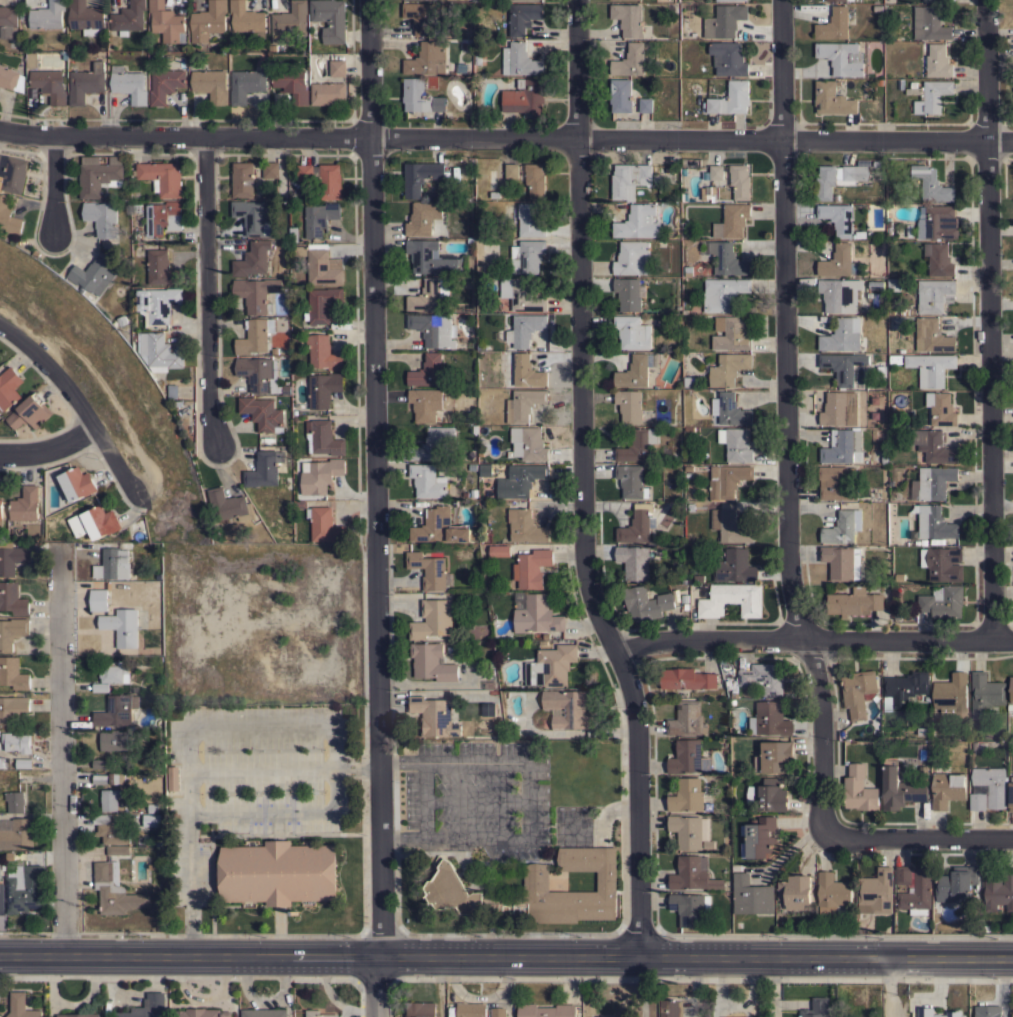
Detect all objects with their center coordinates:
building: (475, 0)
building: (634, 0)
building: (729, 0)
building: (842, 0)
building: (929, 0)
building: (47, 15)
building: (523, 16)
building: (85, 17)
building: (427, 17)
building: (128, 18)
building: (627, 18)
building: (247, 19)
building: (328, 20)
building: (7, 21)
building: (208, 21)
building: (724, 21)
building: (166, 22)
building: (289, 23)
building: (834, 24)
building: (929, 24)
building: (842, 57)
building: (728, 58)
building: (32, 59)
building: (427, 59)
building: (477, 59)
building: (520, 60)
building: (629, 61)
building: (938, 61)
building: (338, 68)
building: (11, 79)
building: (86, 83)
building: (900, 83)
building: (49, 84)
building: (129, 84)
building: (165, 84)
building: (209, 84)
building: (246, 84)
building: (292, 84)
building: (913, 84)
building: (328, 93)
building: (620, 95)
building: (930, 96)
building: (420, 97)
building: (525, 97)
building: (731, 98)
building: (832, 98)
building: (645, 105)
road: (506, 139)
building: (876, 163)
building: (270, 169)
building: (512, 171)
building: (877, 172)
building: (12, 173)
building: (98, 175)
building: (420, 176)
building: (161, 177)
building: (323, 178)
building: (837, 178)
building: (242, 179)
building: (629, 179)
building: (733, 179)
building: (535, 180)
building: (931, 184)
road: (51, 185)
building: (490, 196)
building: (135, 207)
building: (8, 216)
building: (253, 217)
building: (102, 218)
building: (162, 218)
building: (320, 218)
building: (423, 218)
building: (838, 218)
building: (530, 220)
building: (731, 221)
building: (637, 222)
building: (937, 222)
building: (477, 229)
building: (909, 230)
building: (294, 234)
building: (859, 234)
building: (470, 240)
building: (479, 240)
building: (299, 250)
building: (527, 256)
building: (431, 258)
building: (632, 258)
building: (727, 258)
building: (253, 259)
building: (939, 259)
building: (839, 261)
building: (323, 266)
building: (480, 267)
building: (161, 268)
building: (687, 270)
building: (92, 276)
building: (894, 284)
road: (204, 291)
building: (256, 293)
building: (629, 293)
building: (723, 293)
building: (840, 294)
building: (429, 295)
building: (521, 295)
building: (935, 295)
building: (157, 304)
building: (322, 304)
building: (121, 319)
road: (985, 321)
building: (525, 329)
building: (434, 330)
building: (632, 332)
building: (730, 333)
building: (842, 335)
building: (932, 335)
building: (254, 336)
building: (274, 350)
building: (900, 350)
building: (158, 351)
building: (323, 352)
building: (895, 358)
building: (842, 366)
building: (930, 368)
building: (728, 369)
building: (522, 370)
building: (427, 371)
building: (634, 371)
building: (258, 373)
building: (689, 381)
building: (8, 387)
building: (285, 389)
building: (323, 389)
building: (172, 391)
building: (425, 403)
building: (523, 403)
road: (75, 405)
building: (629, 405)
building: (860, 407)
building: (839, 408)
building: (940, 408)
building: (729, 409)
building: (30, 412)
building: (294, 412)
building: (263, 413)
road: (792, 419)
building: (323, 438)
building: (528, 443)
building: (433, 444)
building: (735, 444)
building: (638, 445)
building: (845, 447)
building: (933, 447)
road: (47, 450)
building: (884, 459)
building: (471, 466)
building: (264, 468)
building: (485, 469)
building: (320, 475)
building: (427, 480)
building: (520, 480)
building: (726, 480)
building: (288, 481)
building: (630, 481)
building: (74, 482)
road: (586, 482)
building: (836, 482)
building: (934, 482)
building: (473, 493)
building: (512, 502)
building: (300, 504)
building: (24, 505)
building: (229, 505)
road: (376, 508)
building: (1, 512)
building: (95, 522)
building: (934, 522)
building: (325, 525)
building: (639, 525)
building: (525, 526)
building: (729, 526)
building: (843, 526)
building: (440, 527)
building: (50, 528)
building: (923, 541)
building: (933, 541)
building: (916, 542)
building: (499, 550)
building: (11, 559)
building: (633, 562)
building: (842, 562)
building: (943, 563)
building: (113, 564)
building: (735, 566)
building: (531, 568)
building: (429, 570)
building: (158, 576)
building: (698, 578)
building: (684, 581)
building: (684, 598)
building: (12, 599)
building: (99, 599)
building: (731, 600)
building: (943, 601)
building: (854, 602)
building: (645, 603)
building: (685, 606)
building: (535, 613)
building: (433, 619)
building: (122, 626)
building: (12, 632)
building: (549, 635)
road: (812, 637)
building: (542, 642)
building: (432, 661)
building: (550, 666)
building: (13, 673)
building: (113, 673)
building: (764, 678)
building: (686, 679)
building: (101, 687)
building: (903, 689)
building: (1011, 689)
building: (858, 692)
building: (985, 693)
building: (733, 694)
building: (951, 695)
building: (1009, 707)
building: (488, 708)
building: (12, 709)
building: (569, 709)
building: (117, 710)
building: (434, 716)
building: (687, 719)
building: (769, 719)
building: (921, 731)
building: (113, 740)
building: (16, 742)
building: (1001, 750)
road: (63, 754)
building: (774, 756)
building: (688, 757)
building: (1, 762)
building: (23, 762)
building: (100, 764)
building: (922, 773)
building: (116, 778)
building: (174, 778)
building: (100, 779)
building: (900, 787)
building: (947, 788)
building: (988, 788)
building: (859, 789)
building: (1011, 794)
building: (687, 795)
building: (771, 795)
building: (110, 799)
building: (15, 801)
building: (152, 807)
building: (151, 820)
building: (110, 828)
building: (691, 832)
building: (18, 835)
road: (917, 836)
building: (760, 837)
building: (159, 842)
building: (118, 850)
building: (736, 867)
building: (278, 872)
building: (693, 874)
building: (903, 875)
building: (956, 884)
building: (25, 889)
building: (540, 890)
building: (115, 891)
road: (190, 891)
building: (795, 891)
building: (876, 891)
building: (1000, 891)
building: (832, 892)
building: (917, 893)
building: (751, 895)
building: (2, 898)
building: (688, 908)
road: (506, 957)
road: (888, 988)
building: (20, 1006)
building: (147, 1007)
building: (670, 1008)
building: (817, 1008)
building: (420, 1009)
building: (471, 1010)
building: (546, 1010)
building: (498, 1012)
building: (925, 1012)
building: (988, 1012)
building: (202, 1013)
building: (264, 1013)
building: (318, 1013)
building: (1012, 1013)
building: (79, 1015)
building: (605, 1016)

